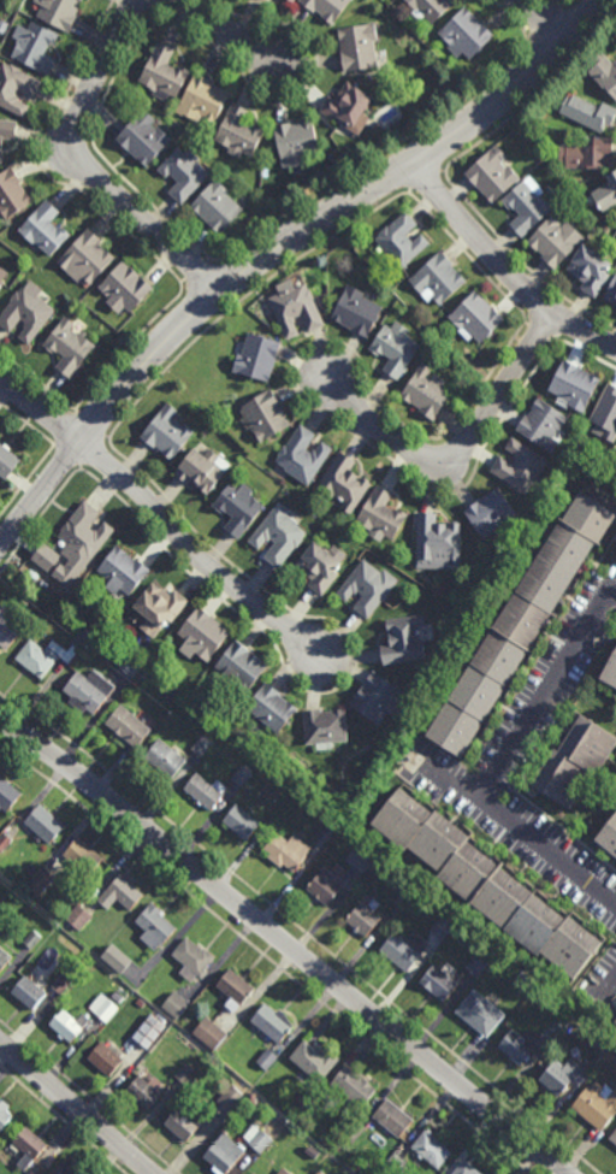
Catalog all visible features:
building: (262, 0)
building: (290, 2)
road: (544, 2)
road: (552, 2)
road: (141, 5)
road: (154, 5)
building: (326, 8)
building: (430, 8)
building: (58, 12)
road: (152, 13)
road: (581, 13)
road: (508, 14)
road: (535, 17)
road: (539, 19)
building: (2, 26)
road: (526, 29)
road: (221, 31)
building: (464, 35)
building: (356, 47)
building: (32, 48)
road: (539, 59)
building: (162, 75)
building: (604, 75)
building: (16, 90)
road: (300, 90)
road: (535, 93)
building: (201, 102)
building: (345, 107)
building: (588, 114)
road: (78, 116)
building: (6, 134)
building: (237, 134)
building: (142, 140)
building: (295, 144)
road: (100, 152)
road: (426, 154)
building: (586, 155)
road: (379, 157)
road: (40, 165)
road: (83, 166)
road: (398, 171)
road: (443, 173)
road: (93, 175)
building: (182, 175)
building: (491, 176)
road: (425, 181)
building: (612, 185)
road: (410, 193)
building: (11, 196)
building: (526, 206)
building: (214, 210)
building: (45, 230)
building: (399, 242)
building: (556, 243)
road: (273, 249)
road: (469, 256)
building: (85, 259)
road: (207, 260)
road: (521, 260)
road: (504, 267)
road: (195, 271)
building: (588, 271)
building: (1, 277)
road: (231, 279)
building: (437, 279)
road: (183, 282)
building: (123, 290)
building: (611, 294)
road: (244, 297)
road: (535, 300)
road: (196, 307)
building: (295, 312)
building: (25, 313)
building: (354, 313)
building: (474, 320)
road: (526, 323)
road: (569, 325)
road: (538, 331)
road: (550, 342)
building: (67, 347)
road: (126, 347)
building: (395, 350)
building: (255, 359)
road: (38, 379)
building: (573, 388)
building: (426, 394)
road: (318, 414)
building: (606, 414)
building: (263, 415)
road: (26, 423)
road: (90, 424)
building: (541, 425)
road: (61, 429)
building: (166, 433)
road: (108, 436)
road: (403, 446)
road: (461, 447)
road: (93, 450)
road: (462, 450)
road: (65, 454)
building: (301, 456)
building: (6, 461)
road: (79, 467)
building: (202, 468)
building: (520, 468)
road: (26, 478)
building: (343, 484)
building: (237, 507)
road: (158, 511)
building: (492, 514)
building: (379, 517)
road: (38, 519)
building: (278, 535)
building: (83, 537)
building: (436, 542)
building: (46, 556)
building: (316, 567)
building: (122, 572)
building: (366, 588)
building: (158, 608)
building: (517, 624)
building: (8, 626)
building: (202, 635)
building: (402, 638)
building: (81, 639)
building: (35, 660)
building: (128, 665)
building: (239, 667)
building: (610, 671)
building: (144, 676)
road: (349, 680)
building: (87, 691)
building: (375, 698)
building: (269, 709)
building: (126, 727)
building: (322, 727)
building: (202, 744)
building: (162, 760)
building: (573, 762)
road: (494, 766)
building: (242, 775)
road: (449, 779)
road: (503, 780)
building: (203, 791)
building: (7, 797)
building: (239, 824)
building: (43, 825)
road: (564, 830)
building: (326, 831)
building: (609, 838)
building: (5, 842)
building: (285, 853)
building: (83, 856)
building: (361, 857)
building: (40, 880)
building: (484, 885)
building: (322, 889)
building: (118, 895)
building: (403, 898)
building: (78, 916)
building: (362, 920)
building: (153, 928)
building: (440, 928)
road: (302, 930)
building: (32, 939)
road: (285, 942)
building: (402, 950)
road: (266, 957)
building: (4, 958)
building: (117, 958)
building: (191, 961)
building: (150, 963)
building: (475, 966)
building: (75, 972)
building: (525, 980)
building: (61, 983)
building: (437, 983)
building: (232, 987)
building: (28, 992)
road: (611, 993)
building: (117, 997)
building: (141, 1003)
building: (174, 1004)
building: (103, 1007)
building: (479, 1014)
building: (269, 1022)
building: (64, 1026)
building: (149, 1031)
building: (209, 1032)
building: (549, 1034)
building: (516, 1049)
building: (266, 1057)
building: (103, 1060)
building: (314, 1061)
building: (185, 1073)
building: (563, 1076)
building: (353, 1089)
building: (142, 1093)
road: (89, 1097)
building: (251, 1097)
building: (227, 1101)
road: (77, 1107)
building: (596, 1107)
building: (4, 1114)
road: (63, 1119)
building: (391, 1120)
building: (185, 1121)
building: (354, 1129)
building: (257, 1138)
building: (612, 1138)
building: (26, 1145)
building: (430, 1150)
building: (223, 1155)
building: (392, 1164)
building: (63, 1169)
building: (464, 1169)
building: (283, 1170)
building: (319, 1172)
building: (254, 1173)

